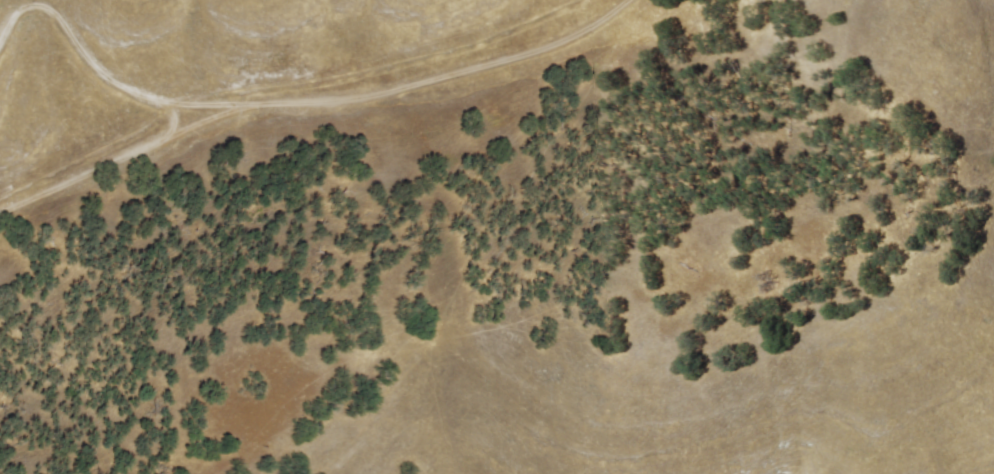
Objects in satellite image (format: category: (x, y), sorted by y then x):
road: (297, 99)
road: (122, 157)

